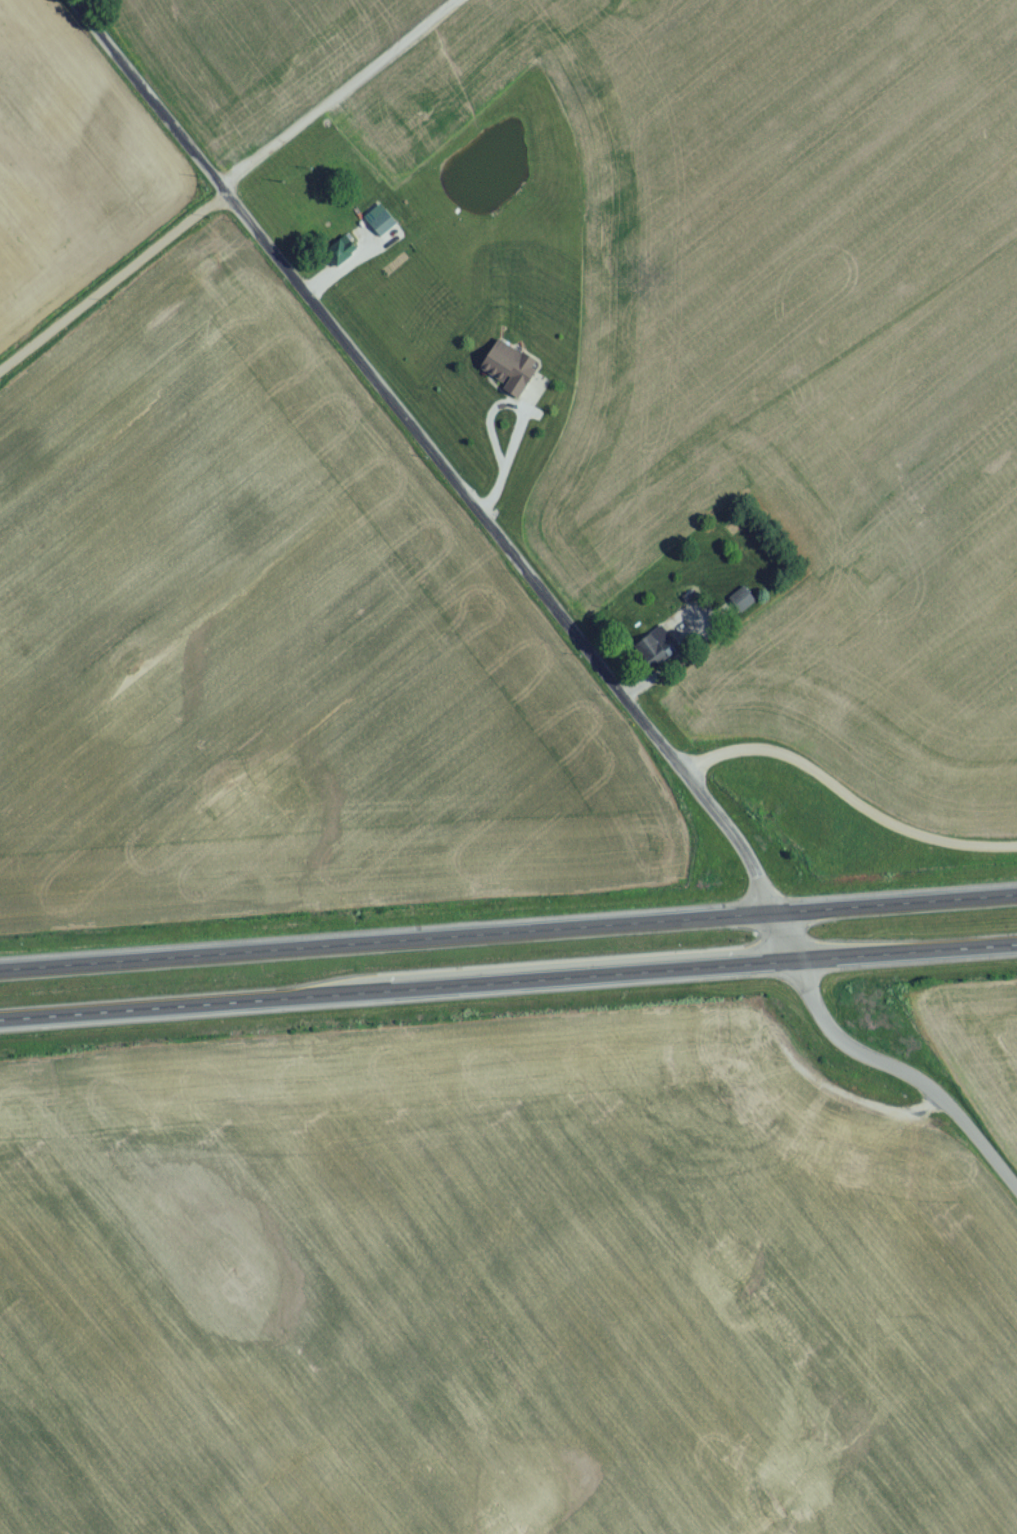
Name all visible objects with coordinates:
road: (140, 98)
road: (229, 186)
building: (378, 233)
building: (512, 374)
road: (521, 422)
road: (520, 570)
building: (743, 606)
road: (671, 661)
road: (850, 805)
road: (508, 936)
road: (508, 984)
road: (901, 1079)

